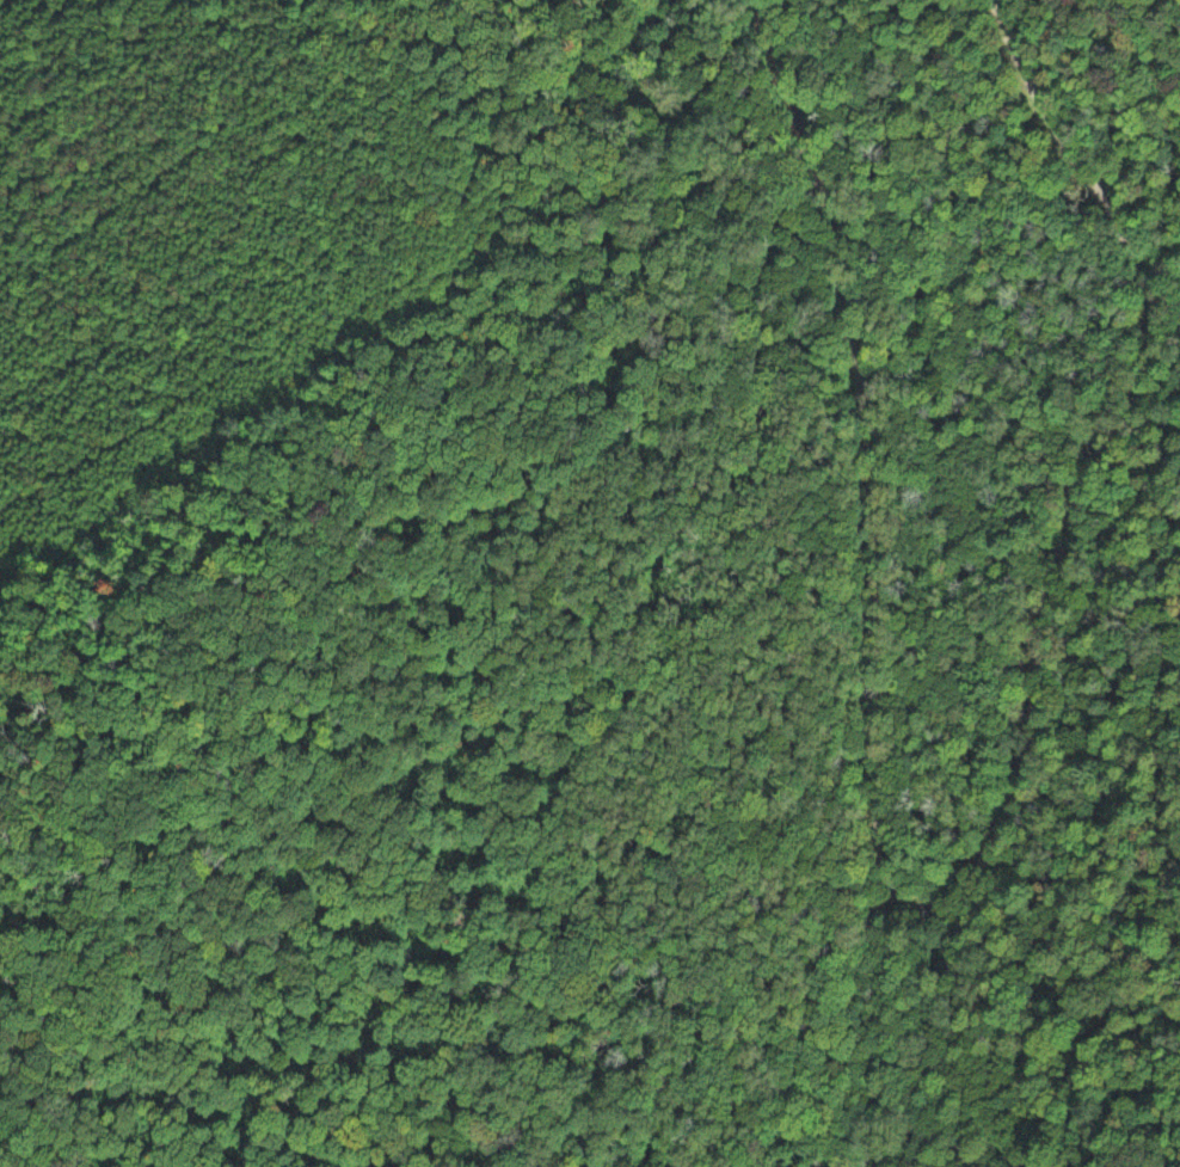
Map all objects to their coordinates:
road: (951, 865)

